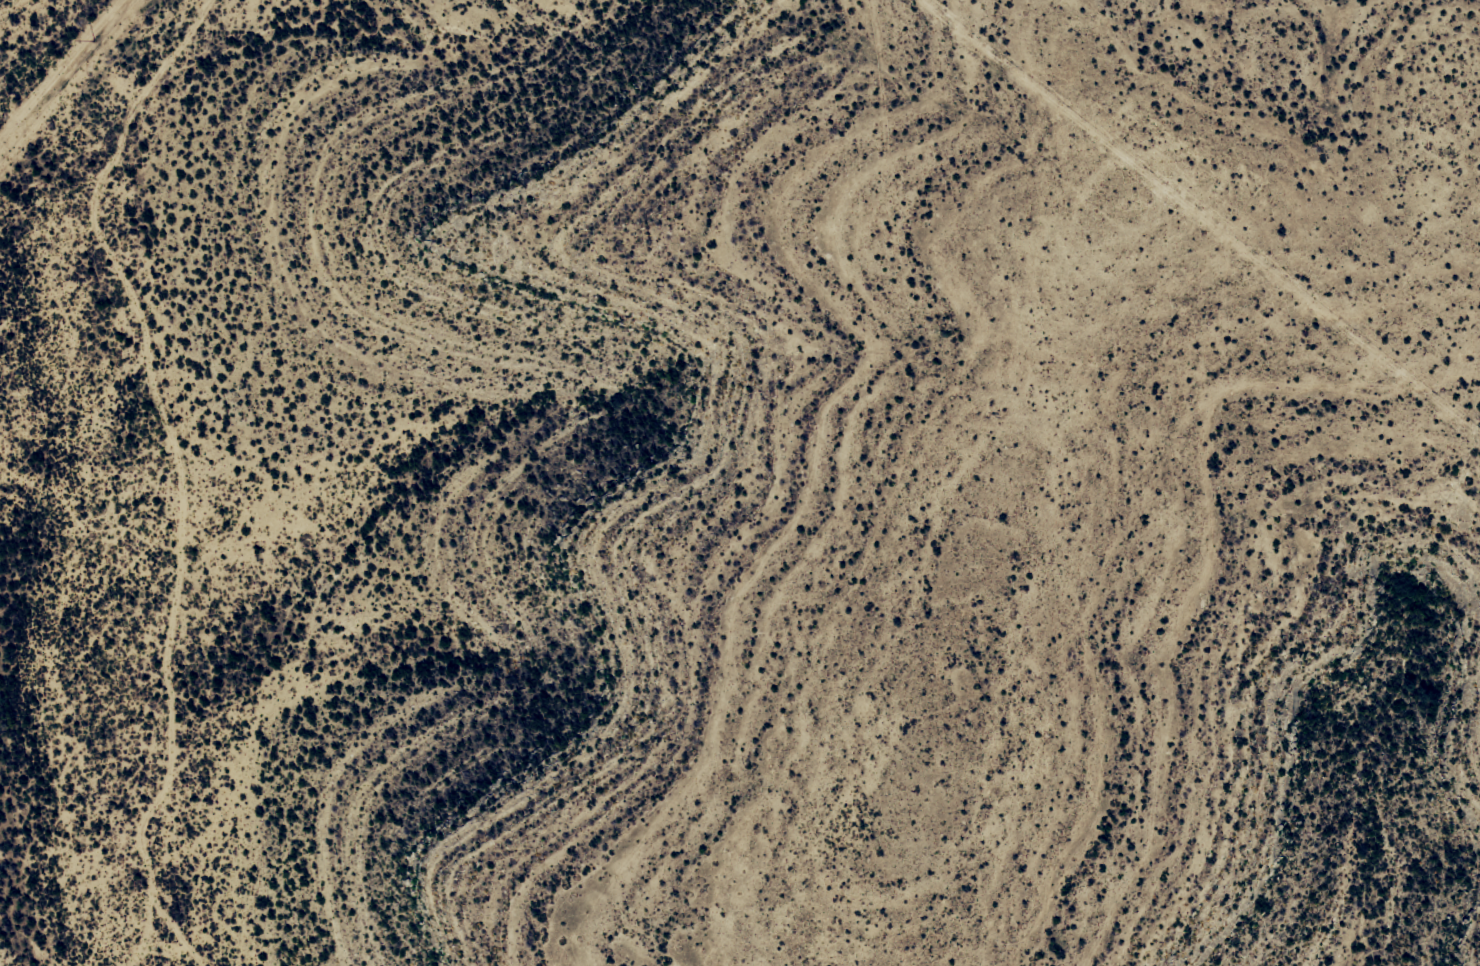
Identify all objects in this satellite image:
power tower: (94, 41)

